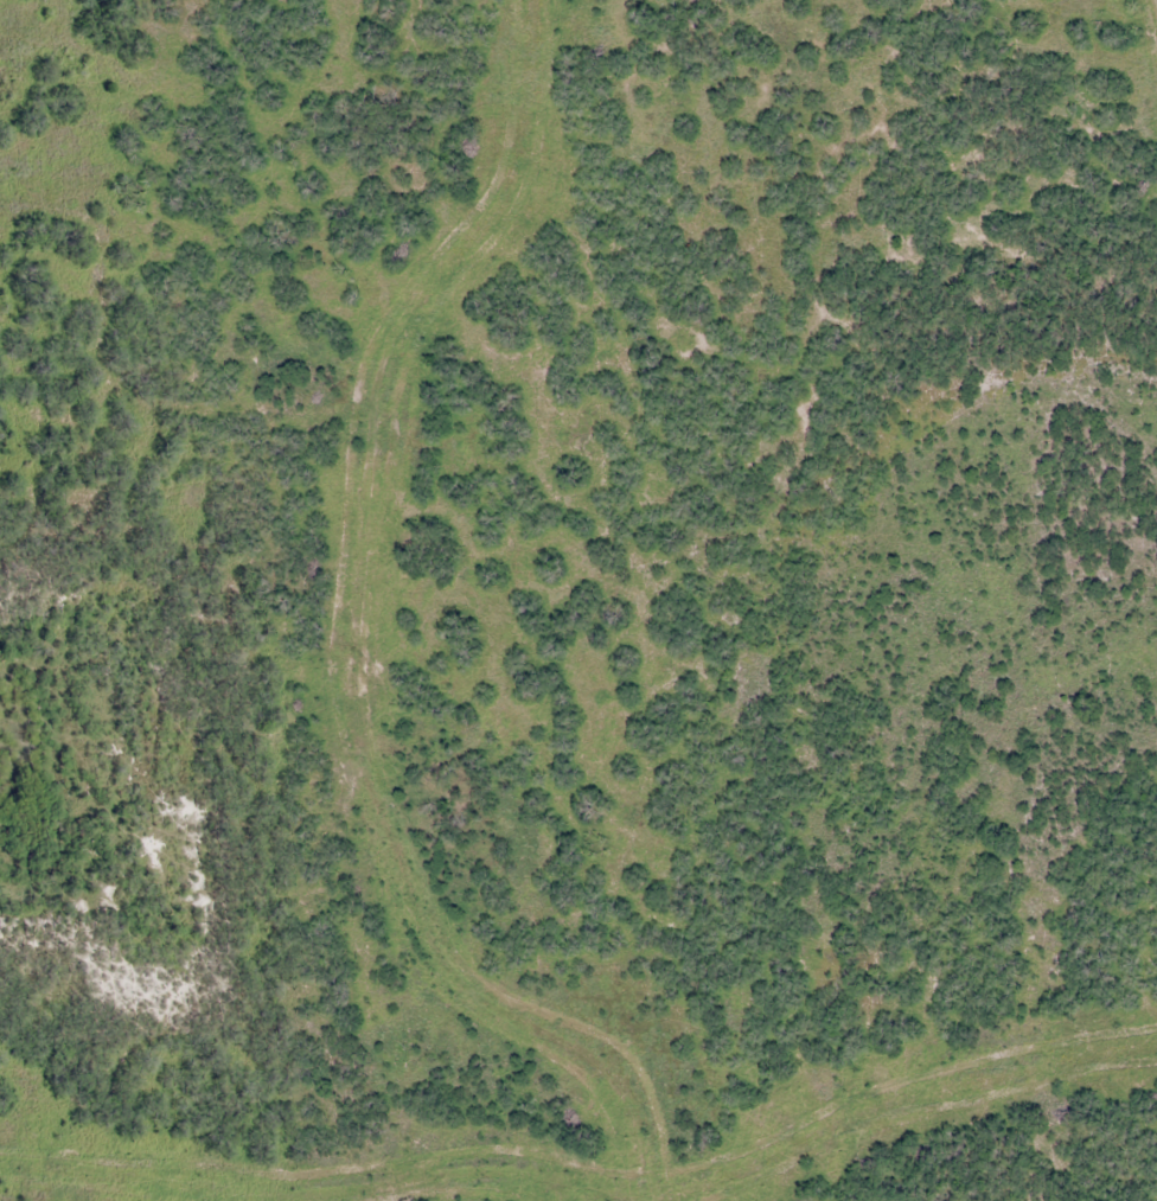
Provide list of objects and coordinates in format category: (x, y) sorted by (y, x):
road: (1131, 110)

